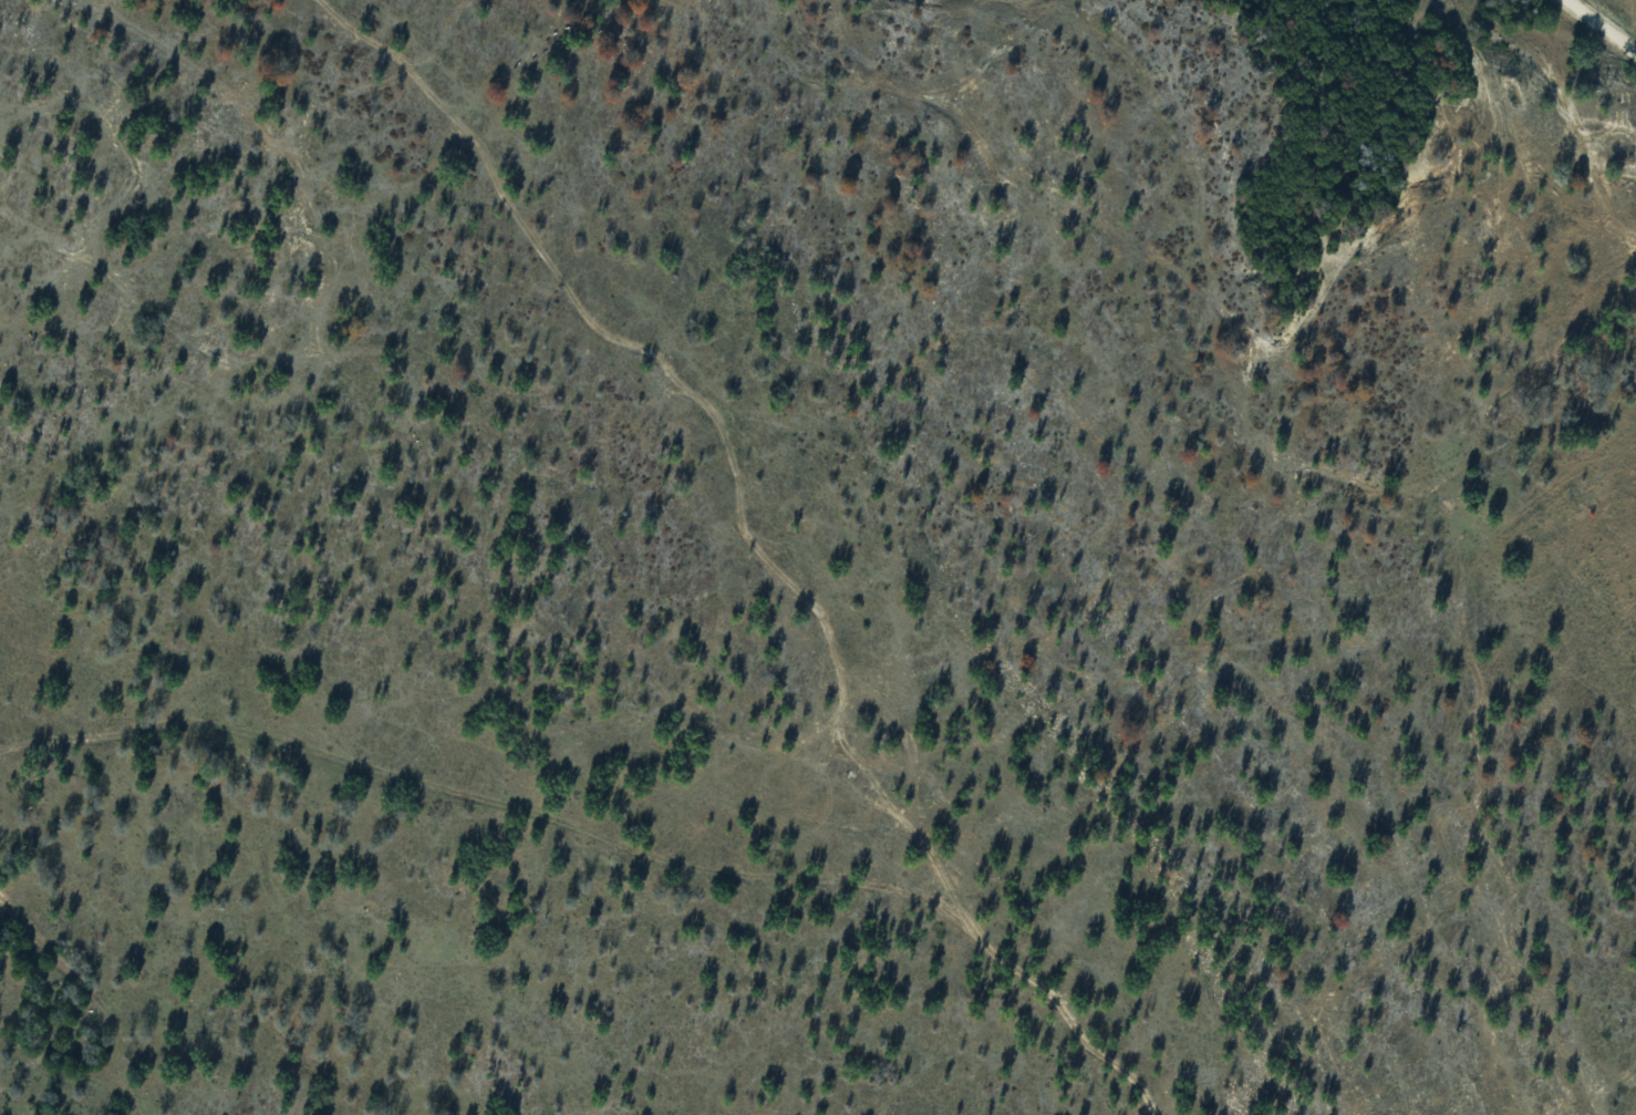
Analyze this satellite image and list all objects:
road: (1601, 27)

